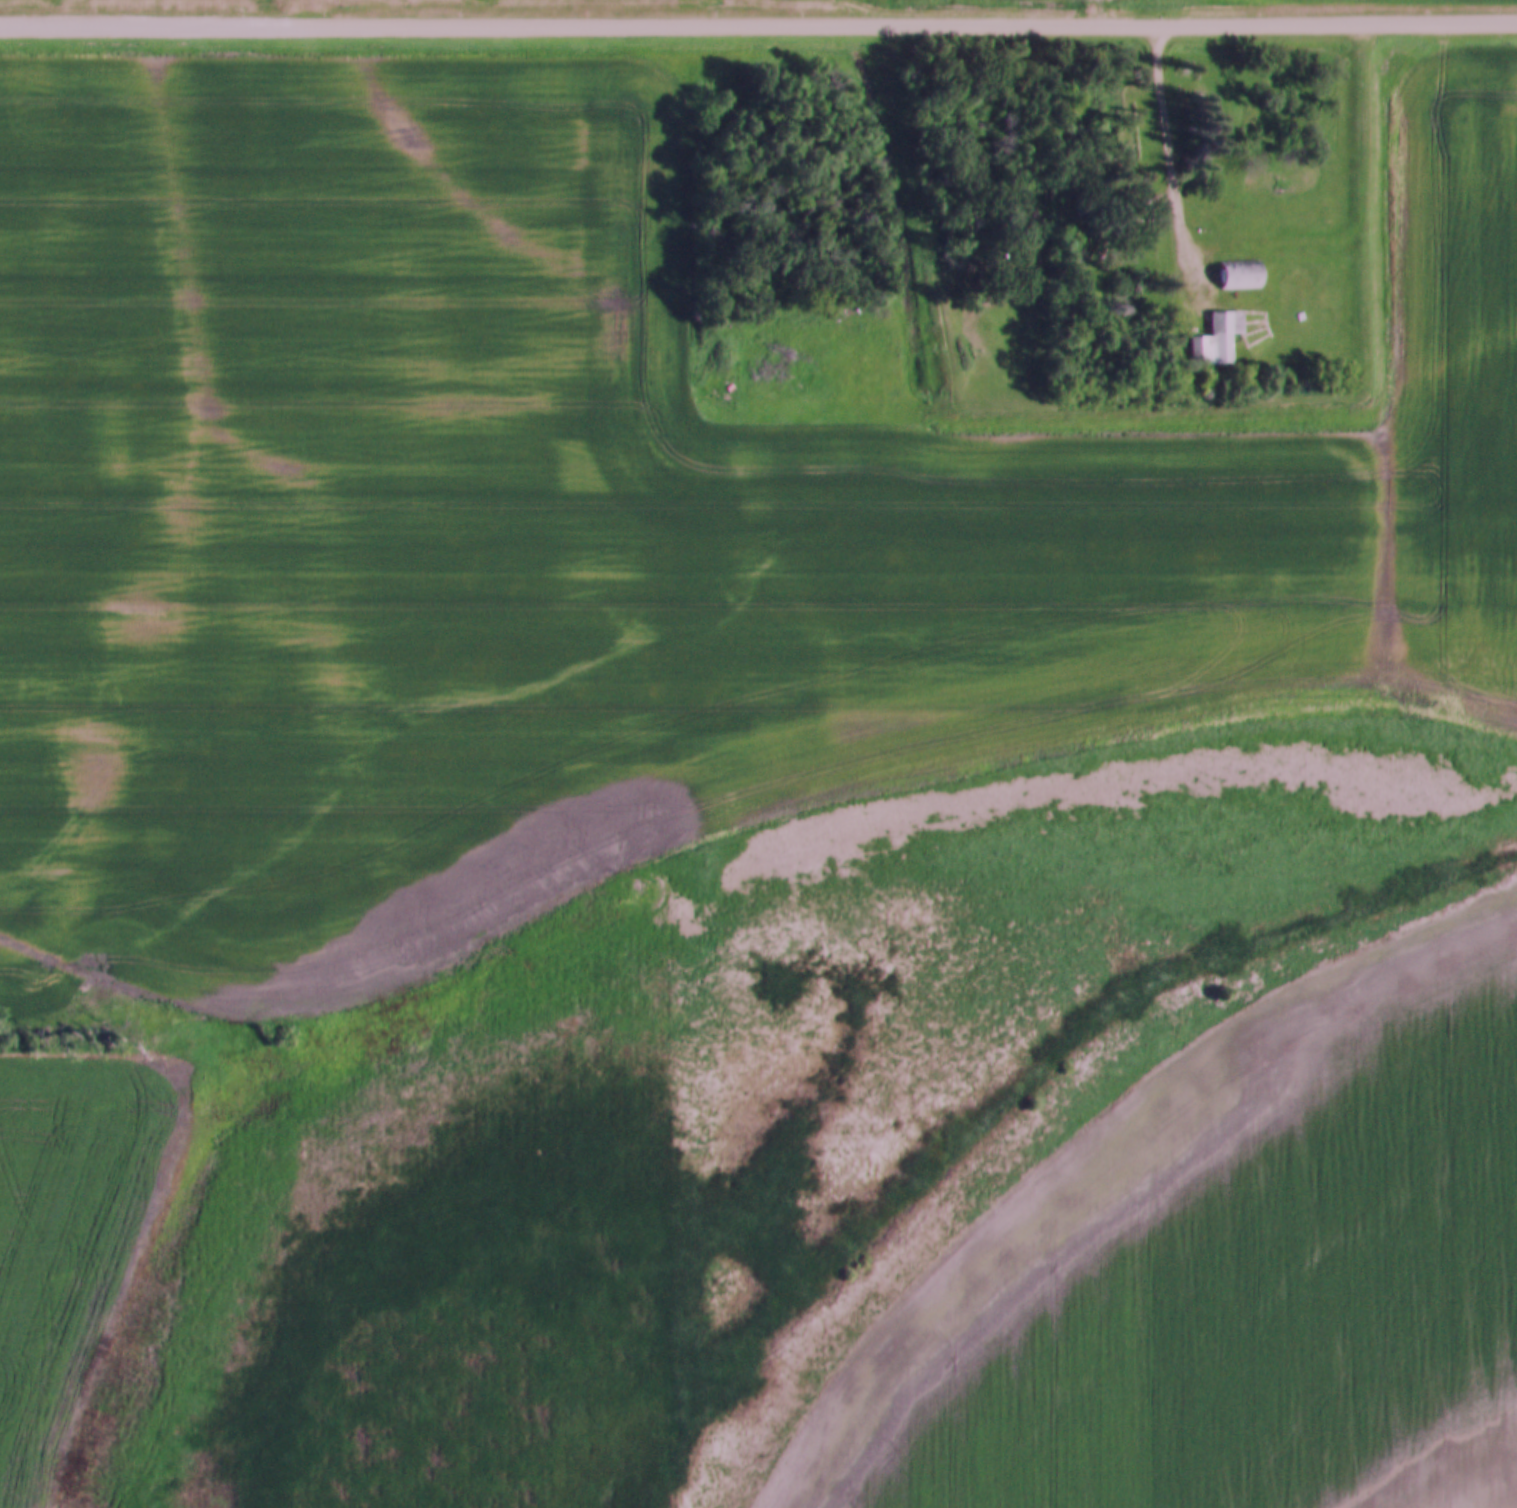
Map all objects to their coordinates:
road: (758, 31)
road: (1174, 164)
building: (1109, 219)
building: (1236, 276)
road: (1250, 309)
building: (1297, 313)
road: (1249, 320)
road: (1263, 323)
road: (1251, 328)
park: (1269, 328)
road: (1239, 333)
road: (1256, 335)
building: (1213, 338)
road: (1265, 342)

